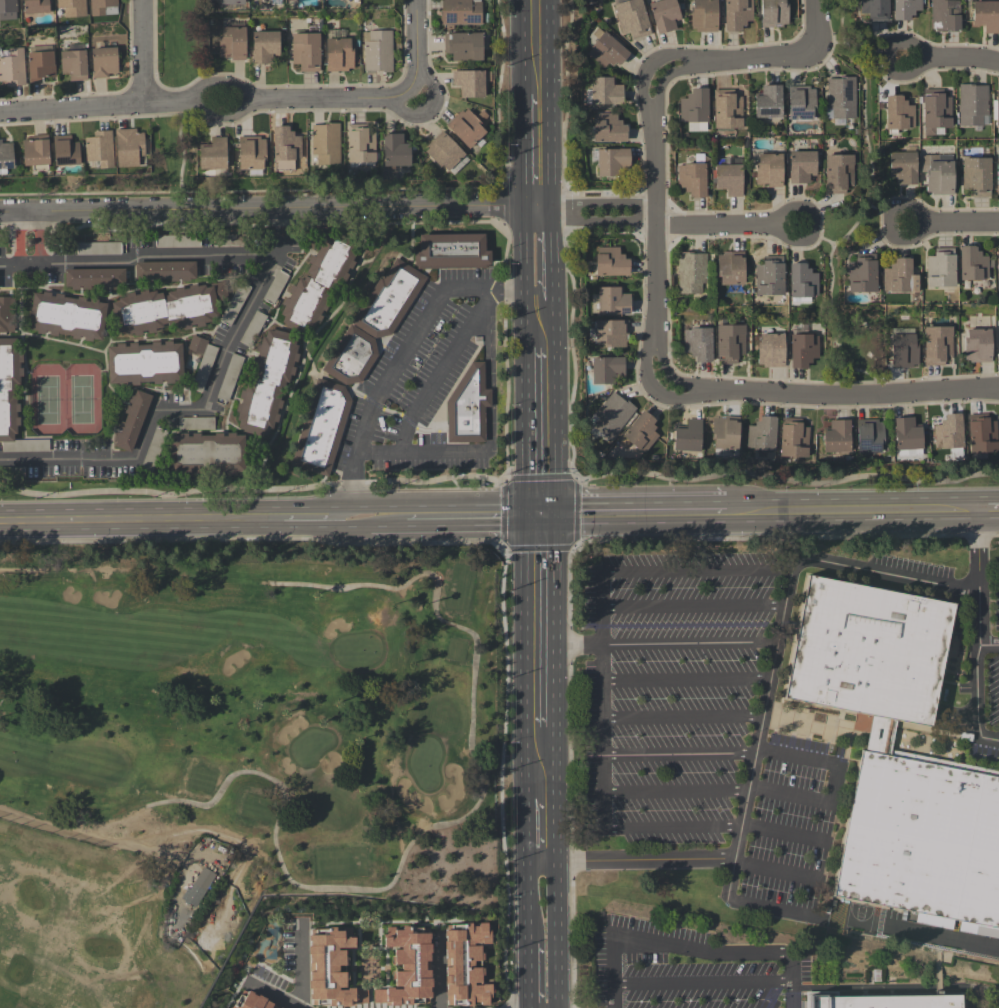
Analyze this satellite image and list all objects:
building: (232, 2)
building: (276, 2)
building: (36, 6)
building: (73, 7)
building: (104, 7)
road: (536, 8)
building: (875, 9)
building: (906, 9)
building: (8, 10)
building: (461, 12)
building: (774, 13)
building: (737, 14)
building: (664, 15)
building: (704, 16)
building: (945, 16)
building: (986, 16)
building: (632, 18)
building: (232, 42)
building: (464, 46)
building: (265, 47)
road: (419, 49)
building: (306, 50)
building: (608, 51)
road: (144, 52)
building: (378, 52)
building: (339, 55)
road: (536, 55)
road: (672, 56)
road: (782, 57)
road: (950, 58)
building: (75, 62)
building: (104, 62)
building: (41, 63)
building: (13, 67)
road: (684, 71)
building: (470, 83)
road: (643, 91)
building: (606, 92)
road: (659, 95)
building: (842, 97)
road: (209, 100)
building: (769, 102)
building: (801, 103)
building: (972, 105)
building: (695, 108)
building: (727, 110)
building: (935, 111)
building: (996, 111)
building: (898, 114)
building: (466, 128)
building: (609, 129)
building: (325, 143)
building: (360, 144)
building: (129, 147)
building: (285, 148)
building: (100, 149)
building: (66, 151)
building: (395, 151)
building: (444, 151)
road: (538, 152)
building: (37, 153)
building: (251, 153)
building: (213, 155)
building: (6, 157)
building: (612, 162)
building: (801, 167)
building: (903, 168)
building: (769, 170)
building: (838, 173)
building: (938, 174)
building: (729, 176)
building: (977, 176)
building: (997, 176)
building: (693, 177)
road: (598, 202)
road: (867, 208)
road: (268, 211)
road: (282, 222)
road: (598, 222)
road: (728, 226)
road: (951, 227)
road: (18, 230)
road: (657, 230)
road: (41, 237)
road: (816, 237)
building: (177, 241)
building: (231, 241)
building: (99, 249)
building: (449, 254)
road: (539, 256)
road: (19, 257)
road: (150, 257)
building: (611, 262)
building: (973, 264)
building: (731, 268)
building: (941, 268)
building: (998, 270)
building: (165, 271)
building: (691, 273)
building: (862, 274)
building: (769, 277)
building: (900, 277)
building: (95, 278)
building: (802, 283)
building: (317, 285)
building: (275, 288)
building: (613, 301)
building: (388, 302)
building: (235, 303)
building: (168, 309)
building: (6, 315)
building: (67, 316)
road: (541, 325)
building: (253, 329)
building: (611, 333)
building: (699, 344)
building: (730, 344)
building: (998, 344)
building: (937, 345)
building: (978, 346)
road: (652, 347)
building: (771, 350)
building: (803, 350)
building: (903, 351)
road: (401, 357)
building: (349, 359)
building: (202, 361)
building: (145, 363)
building: (606, 370)
building: (230, 377)
building: (267, 382)
road: (427, 390)
road: (852, 396)
road: (692, 399)
building: (13, 401)
building: (466, 409)
road: (169, 410)
building: (613, 416)
building: (132, 421)
building: (196, 423)
building: (319, 430)
road: (542, 432)
building: (640, 433)
building: (725, 433)
building: (762, 434)
building: (982, 434)
building: (869, 436)
building: (950, 436)
building: (688, 437)
building: (837, 437)
building: (907, 438)
building: (793, 439)
building: (154, 449)
building: (207, 454)
building: (12, 473)
road: (989, 509)
road: (852, 512)
road: (634, 515)
traffic signals: (543, 516)
road: (474, 517)
road: (387, 518)
road: (312, 519)
road: (355, 519)
road: (141, 521)
road: (602, 591)
road: (693, 608)
road: (982, 617)
road: (541, 629)
road: (690, 645)
building: (866, 649)
road: (771, 672)
road: (686, 682)
road: (980, 691)
road: (683, 718)
park: (236, 753)
road: (679, 755)
road: (540, 760)
road: (836, 785)
road: (604, 808)
road: (542, 819)
road: (782, 834)
building: (922, 843)
road: (771, 869)
building: (197, 886)
road: (527, 930)
road: (556, 932)
road: (694, 951)
building: (465, 964)
building: (407, 966)
building: (330, 967)
road: (301, 968)
road: (437, 971)
road: (701, 983)
road: (277, 996)
building: (252, 1000)
building: (886, 1002)

